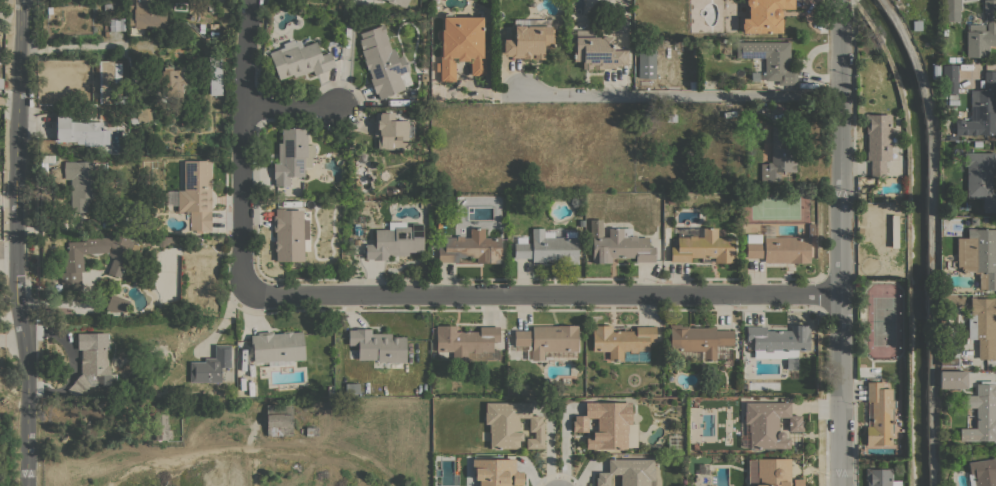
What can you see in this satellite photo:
building: (399, 2)
building: (951, 10)
building: (146, 14)
building: (764, 16)
building: (555, 23)
building: (117, 24)
building: (916, 25)
building: (944, 32)
building: (982, 32)
building: (528, 38)
building: (460, 45)
road: (77, 46)
building: (596, 50)
building: (300, 59)
building: (770, 59)
building: (953, 59)
building: (383, 62)
building: (646, 63)
building: (935, 71)
building: (949, 72)
building: (215, 73)
building: (754, 76)
building: (424, 78)
building: (108, 79)
building: (170, 81)
building: (1, 82)
building: (693, 84)
road: (677, 96)
road: (10, 100)
road: (289, 108)
building: (860, 109)
building: (981, 109)
building: (140, 114)
building: (671, 117)
building: (109, 122)
building: (390, 130)
building: (80, 131)
building: (878, 142)
road: (242, 144)
building: (292, 155)
building: (777, 156)
building: (49, 159)
building: (980, 177)
building: (82, 181)
building: (712, 187)
building: (196, 194)
building: (670, 199)
building: (596, 227)
building: (811, 229)
building: (861, 230)
building: (895, 230)
building: (667, 231)
building: (289, 234)
road: (907, 236)
road: (931, 238)
building: (162, 240)
building: (395, 240)
road: (21, 242)
road: (839, 242)
building: (701, 244)
building: (470, 246)
building: (548, 246)
building: (621, 246)
building: (777, 246)
road: (10, 248)
building: (978, 255)
building: (199, 259)
building: (112, 264)
road: (541, 294)
building: (116, 304)
building: (983, 325)
building: (547, 341)
building: (622, 341)
building: (778, 341)
building: (468, 342)
building: (701, 342)
building: (378, 345)
building: (278, 347)
building: (949, 354)
building: (91, 362)
building: (211, 365)
building: (953, 380)
building: (982, 413)
building: (879, 414)
building: (279, 419)
building: (159, 422)
building: (769, 423)
building: (512, 424)
building: (605, 424)
building: (311, 431)
road: (565, 444)
road: (550, 446)
building: (496, 472)
building: (628, 472)
building: (771, 472)
building: (982, 472)
building: (880, 477)

